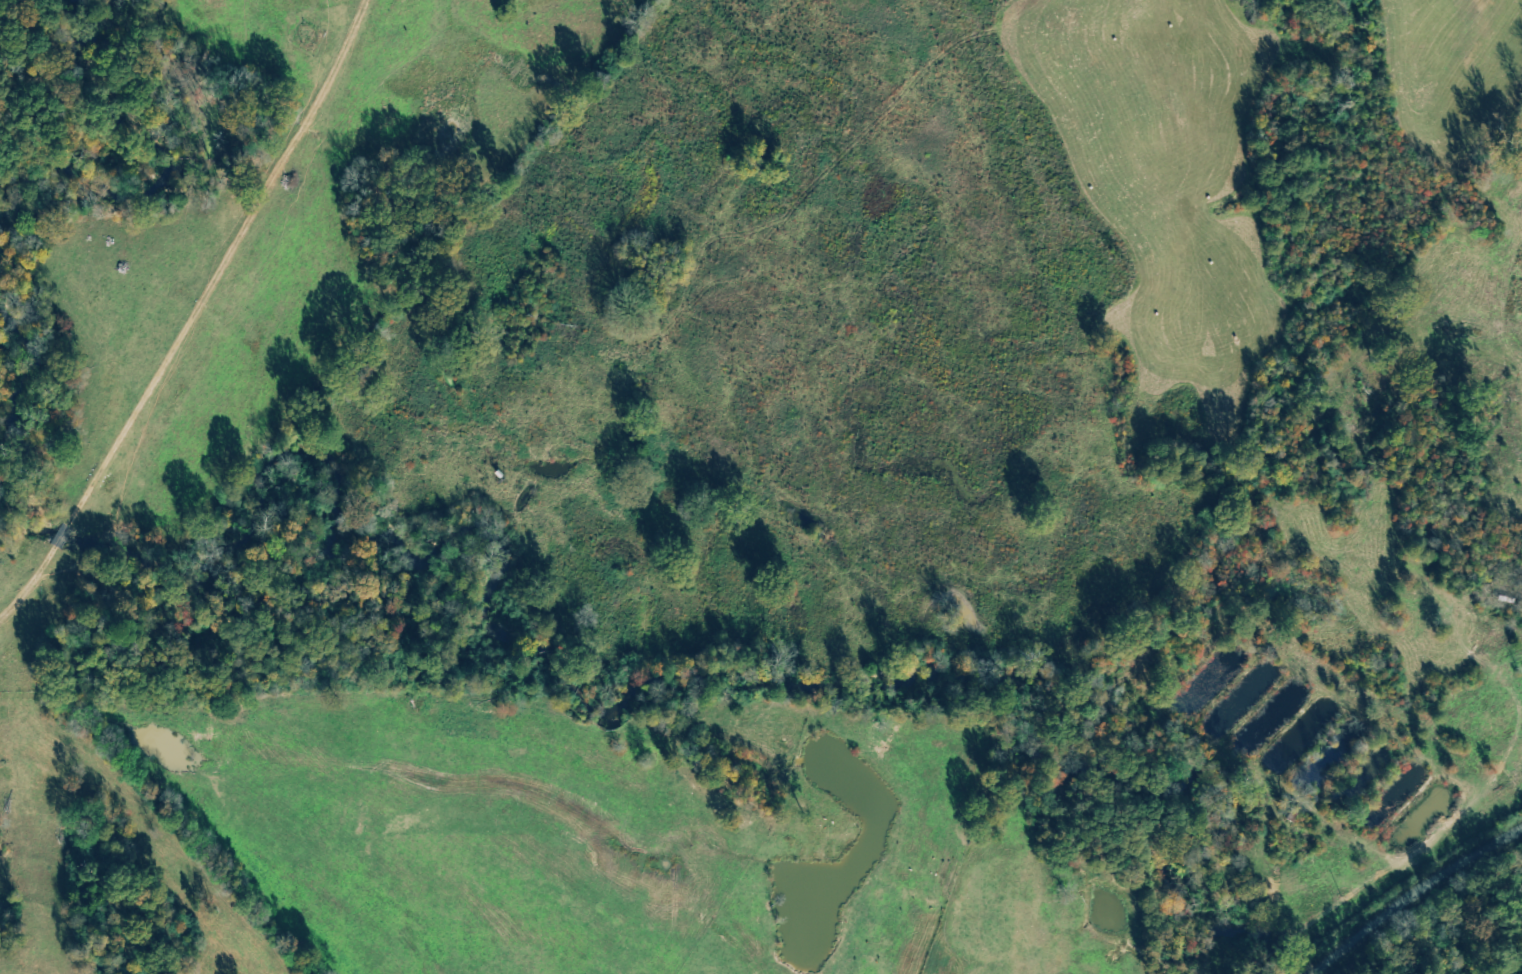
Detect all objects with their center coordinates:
road: (1386, 275)
road: (1441, 919)

